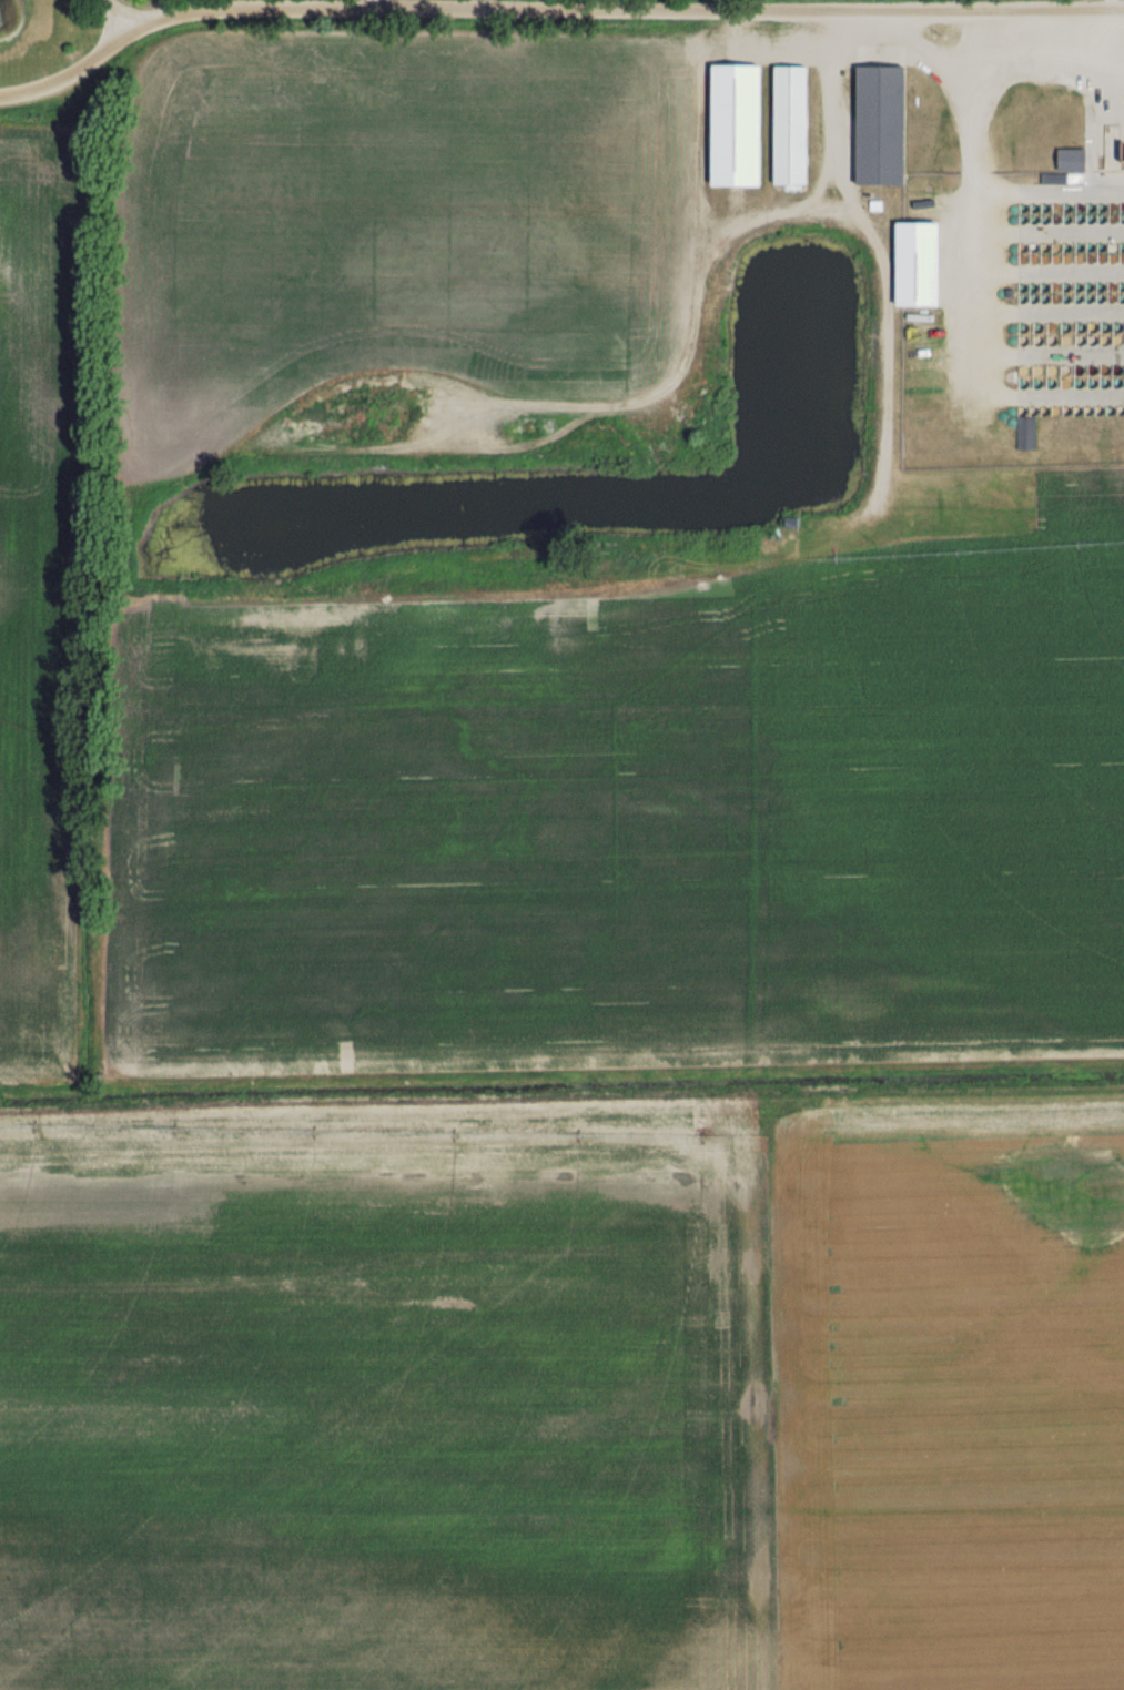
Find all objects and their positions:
road: (126, 0)
road: (901, 3)
road: (1103, 3)
road: (186, 4)
road: (365, 4)
road: (574, 4)
road: (550, 10)
road: (126, 13)
road: (1027, 70)
road: (1102, 119)
building: (796, 125)
building: (885, 125)
building: (1075, 159)
road: (1051, 192)
storage tank: (1071, 208)
storage tank: (1081, 208)
storage tank: (1092, 208)
storage tank: (1103, 208)
storage tank: (1114, 208)
storage tank: (1122, 208)
storage tank: (1026, 209)
storage tank: (1037, 209)
storage tank: (1047, 209)
storage tank: (1060, 209)
road: (830, 210)
storage tank: (1092, 219)
storage tank: (1113, 219)
storage tank: (1122, 219)
storage tank: (1047, 220)
storage tank: (1060, 220)
storage tank: (1071, 220)
storage tank: (1081, 220)
storage tank: (1103, 220)
storage tank: (1026, 221)
storage tank: (1037, 221)
road: (1051, 234)
road: (979, 244)
storage tank: (1093, 246)
storage tank: (1122, 246)
storage tank: (1049, 247)
storage tank: (1060, 247)
storage tank: (1071, 247)
storage tank: (1081, 247)
storage tank: (1103, 247)
storage tank: (1114, 247)
storage tank: (1026, 249)
storage tank: (1037, 249)
storage tank: (1047, 259)
storage tank: (1059, 259)
storage tank: (1071, 259)
storage tank: (1081, 259)
storage tank: (1092, 259)
storage tank: (1103, 259)
storage tank: (1113, 259)
storage tank: (1122, 259)
storage tank: (1026, 260)
storage tank: (1037, 260)
road: (1052, 274)
storage tank: (1092, 286)
storage tank: (1102, 286)
storage tank: (1113, 286)
storage tank: (1122, 286)
storage tank: (1046, 287)
storage tank: (1059, 287)
storage tank: (1070, 287)
storage tank: (1080, 287)
storage tank: (1026, 289)
storage tank: (1036, 289)
storage tank: (1091, 297)
storage tank: (1122, 297)
storage tank: (1046, 298)
storage tank: (1059, 298)
storage tank: (1069, 298)
storage tank: (1080, 298)
storage tank: (1102, 298)
storage tank: (1113, 298)
storage tank: (1025, 300)
storage tank: (1036, 300)
road: (1052, 315)
storage tank: (1045, 327)
storage tank: (1056, 327)
storage tank: (1067, 327)
storage tank: (1079, 327)
storage tank: (1090, 327)
storage tank: (1101, 327)
storage tank: (1111, 327)
storage tank: (1121, 327)
storage tank: (1024, 328)
storage tank: (1034, 328)
storage tank: (1067, 338)
storage tank: (1079, 338)
storage tank: (1090, 338)
storage tank: (1100, 338)
storage tank: (1111, 338)
storage tank: (1121, 338)
storage tank: (1024, 340)
storage tank: (1034, 340)
storage tank: (1045, 340)
storage tank: (1056, 340)
road: (1052, 355)
road: (670, 363)
storage tank: (1039, 370)
storage tank: (1053, 370)
storage tank: (1066, 370)
storage tank: (1079, 370)
storage tank: (1093, 370)
storage tank: (1105, 370)
storage tank: (1117, 370)
storage tank: (1025, 371)
road: (890, 381)
storage tank: (1094, 382)
storage tank: (1118, 382)
storage tank: (1025, 383)
storage tank: (1040, 383)
storage tank: (1053, 383)
storage tank: (1066, 383)
storage tank: (1080, 383)
storage tank: (1106, 383)
storage tank: (1069, 409)
storage tank: (1079, 409)
storage tank: (1091, 409)
storage tank: (1101, 409)
storage tank: (1112, 409)
storage tank: (1121, 409)
storage tank: (1045, 411)
storage tank: (1057, 411)
storage tank: (1025, 412)
storage tank: (1035, 412)
building: (1029, 433)

